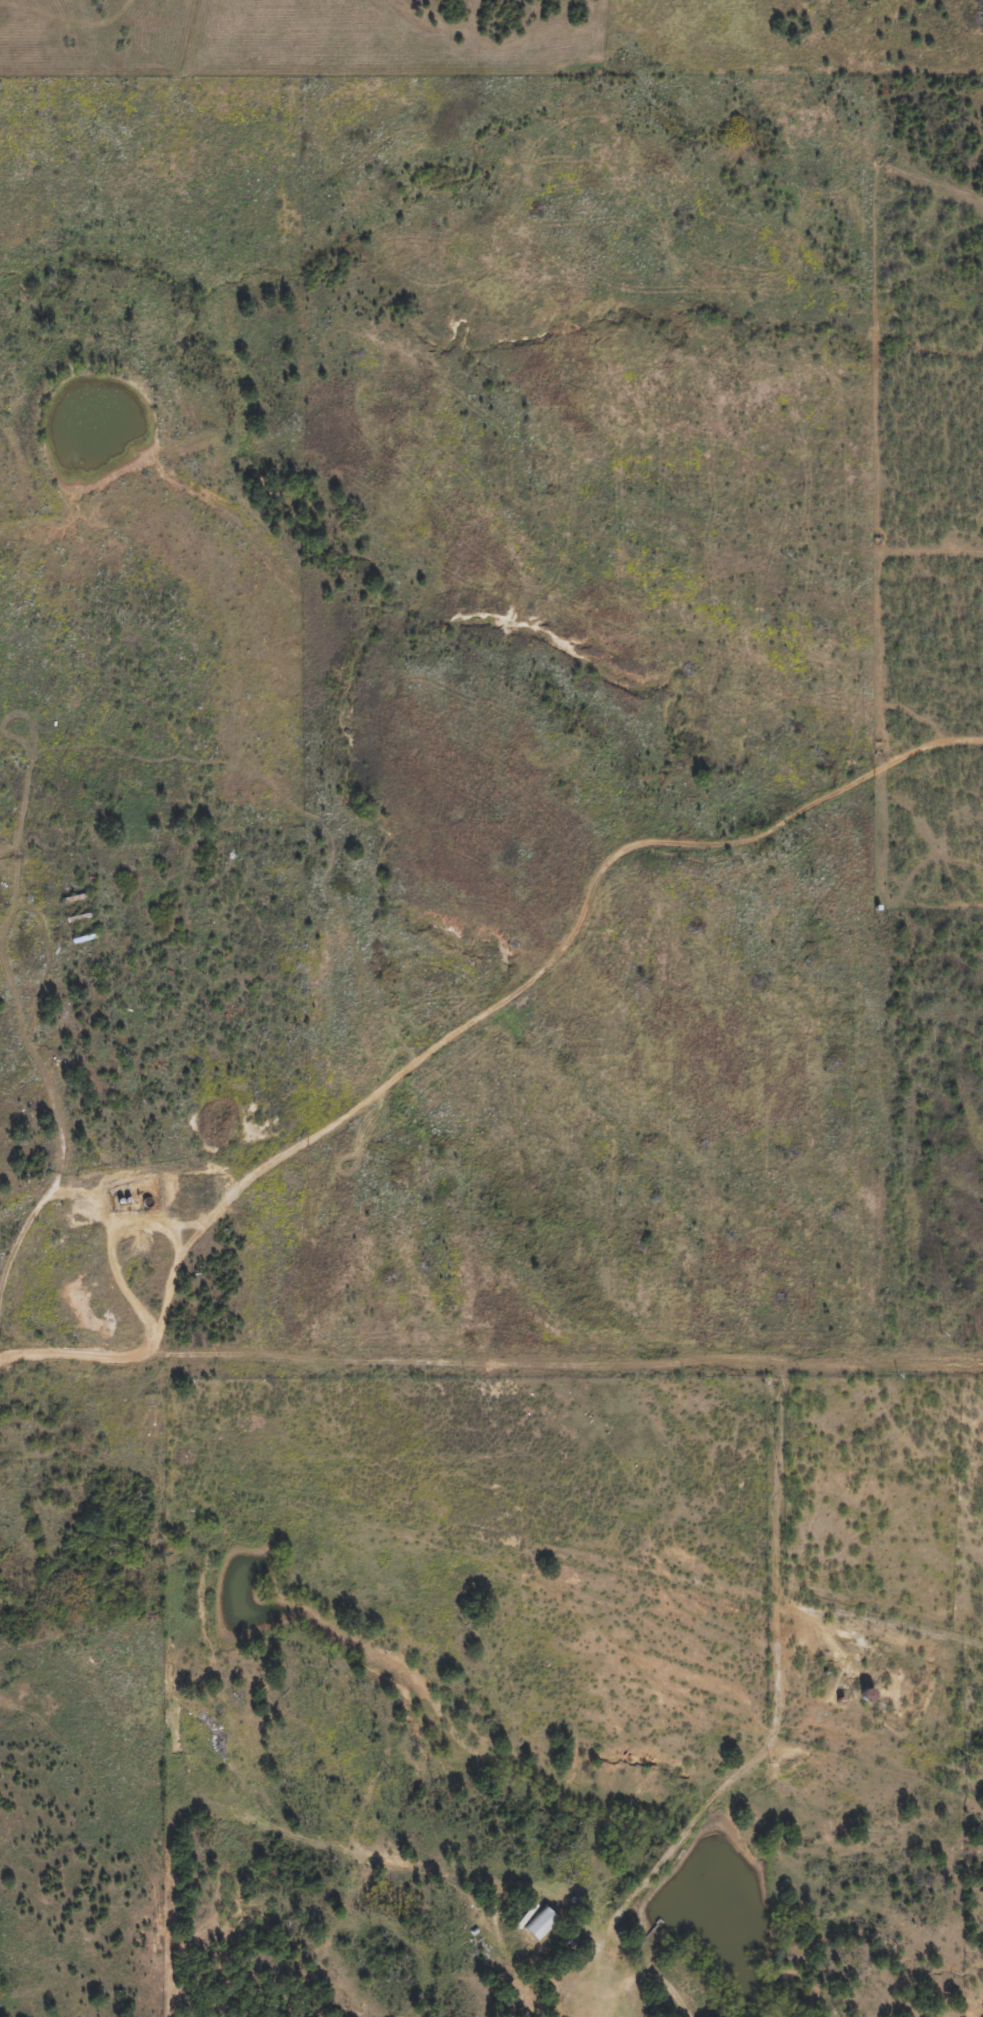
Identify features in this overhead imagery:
building: (867, 1695)
building: (541, 1921)

